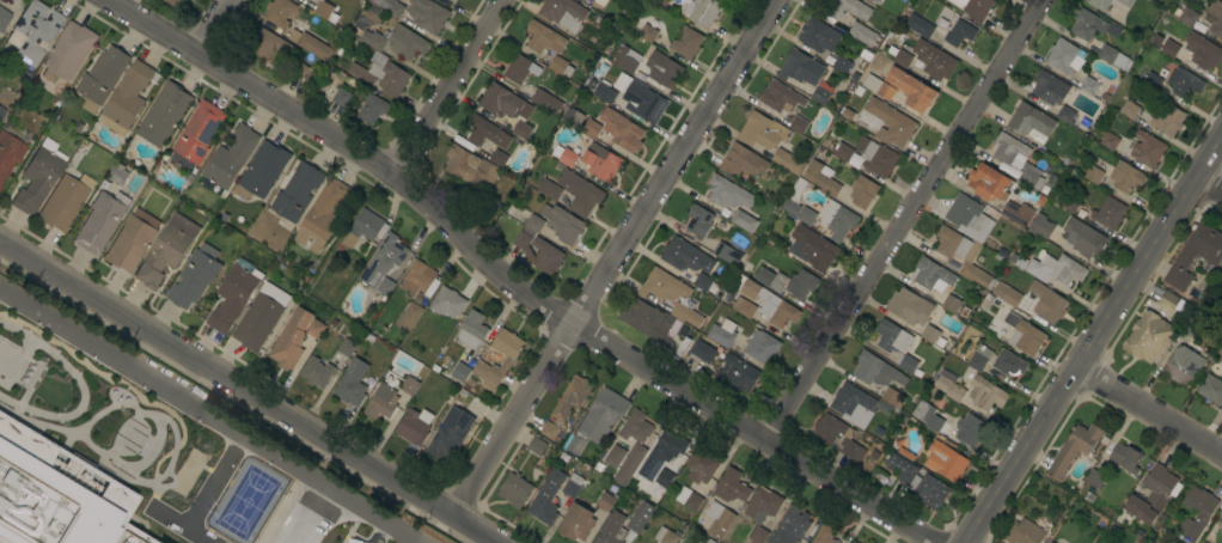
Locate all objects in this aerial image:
building: (592, 0)
building: (868, 0)
building: (869, 0)
building: (172, 2)
building: (600, 2)
building: (390, 6)
building: (1100, 6)
building: (974, 7)
building: (848, 8)
building: (325, 11)
building: (280, 12)
building: (704, 12)
building: (563, 13)
building: (427, 14)
building: (1187, 16)
building: (4, 18)
building: (1215, 18)
building: (919, 25)
building: (1090, 25)
road: (212, 26)
building: (647, 26)
building: (33, 31)
building: (960, 32)
building: (818, 35)
building: (864, 35)
building: (540, 36)
building: (373, 39)
building: (407, 42)
building: (686, 42)
building: (313, 45)
building: (269, 47)
building: (1169, 48)
building: (1202, 50)
building: (68, 51)
building: (904, 55)
building: (1064, 56)
building: (1113, 56)
building: (625, 57)
building: (841, 65)
building: (939, 65)
building: (560, 66)
building: (519, 67)
building: (800, 67)
building: (662, 69)
building: (298, 71)
building: (380, 74)
building: (100, 77)
building: (1151, 80)
building: (1184, 83)
building: (1089, 85)
road: (446, 87)
building: (1049, 87)
building: (805, 89)
building: (912, 89)
building: (885, 91)
building: (820, 94)
building: (341, 97)
building: (633, 97)
building: (780, 97)
building: (126, 98)
building: (546, 100)
building: (503, 102)
building: (372, 109)
building: (1129, 109)
building: (1, 111)
building: (164, 114)
building: (1065, 114)
building: (1168, 120)
building: (886, 122)
building: (1031, 122)
building: (798, 124)
building: (591, 128)
building: (521, 129)
building: (622, 129)
building: (760, 130)
building: (485, 132)
building: (196, 134)
building: (1108, 140)
building: (1147, 148)
building: (843, 152)
building: (8, 153)
building: (230, 157)
building: (568, 157)
building: (875, 157)
building: (499, 158)
building: (1016, 158)
building: (741, 160)
building: (788, 160)
building: (601, 161)
building: (470, 167)
building: (261, 171)
building: (1092, 172)
building: (38, 177)
building: (820, 177)
building: (1125, 177)
building: (989, 183)
road: (1209, 184)
building: (0, 187)
building: (549, 189)
building: (297, 191)
building: (862, 191)
building: (580, 193)
building: (727, 193)
building: (794, 197)
building: (62, 202)
building: (1069, 202)
building: (1016, 212)
building: (1108, 213)
building: (322, 215)
building: (806, 215)
building: (969, 216)
building: (836, 219)
building: (698, 220)
building: (743, 220)
building: (100, 221)
road: (903, 221)
building: (562, 224)
building: (1040, 225)
building: (365, 227)
building: (1082, 237)
building: (132, 240)
building: (537, 246)
building: (812, 248)
building: (166, 249)
building: (727, 254)
building: (961, 255)
building: (1194, 255)
road: (611, 256)
building: (685, 256)
building: (383, 264)
building: (1034, 268)
building: (1064, 269)
building: (931, 274)
building: (1221, 275)
building: (193, 279)
building: (420, 279)
building: (771, 279)
building: (702, 281)
building: (801, 283)
road: (509, 285)
building: (664, 286)
building: (233, 294)
building: (1007, 294)
building: (766, 301)
building: (1046, 301)
building: (447, 303)
building: (949, 303)
building: (1173, 303)
building: (743, 306)
building: (909, 306)
building: (686, 315)
building: (259, 317)
building: (408, 317)
building: (1010, 319)
building: (646, 322)
building: (1190, 327)
building: (314, 328)
building: (471, 330)
building: (722, 332)
building: (929, 334)
building: (892, 336)
building: (1148, 336)
building: (1026, 337)
building: (291, 340)
road: (1090, 340)
building: (346, 347)
building: (762, 347)
building: (703, 352)
building: (978, 358)
building: (509, 359)
building: (1221, 360)
building: (1008, 362)
building: (908, 364)
building: (1181, 365)
building: (875, 370)
building: (316, 372)
building: (460, 372)
building: (737, 373)
building: (352, 383)
building: (409, 385)
building: (948, 385)
building: (1211, 389)
road: (248, 392)
building: (985, 393)
building: (892, 397)
building: (380, 402)
building: (851, 402)
building: (566, 404)
road: (1148, 410)
road: (209, 414)
building: (929, 417)
building: (598, 420)
building: (414, 425)
building: (636, 427)
building: (827, 428)
building: (970, 428)
building: (450, 433)
building: (139, 437)
building: (536, 445)
building: (1074, 447)
building: (853, 451)
building: (662, 452)
building: (615, 456)
building: (1125, 457)
building: (945, 460)
building: (629, 464)
building: (701, 465)
building: (664, 477)
building: (916, 478)
building: (1095, 478)
building: (573, 484)
building: (731, 486)
building: (105, 487)
building: (514, 489)
building: (1053, 492)
building: (1153, 494)
building: (546, 498)
building: (689, 499)
building: (605, 501)
building: (762, 510)
building: (1203, 514)
building: (640, 517)
building: (719, 519)
building: (576, 523)
building: (1220, 523)
building: (789, 526)
building: (610, 529)
building: (1025, 532)
building: (1139, 532)
building: (824, 535)
building: (665, 536)
building: (692, 542)
building: (695, 542)
building: (851, 542)
building: (854, 542)
building: (1049, 542)
building: (1051, 542)
building: (1202, 542)
building: (1221, 542)

